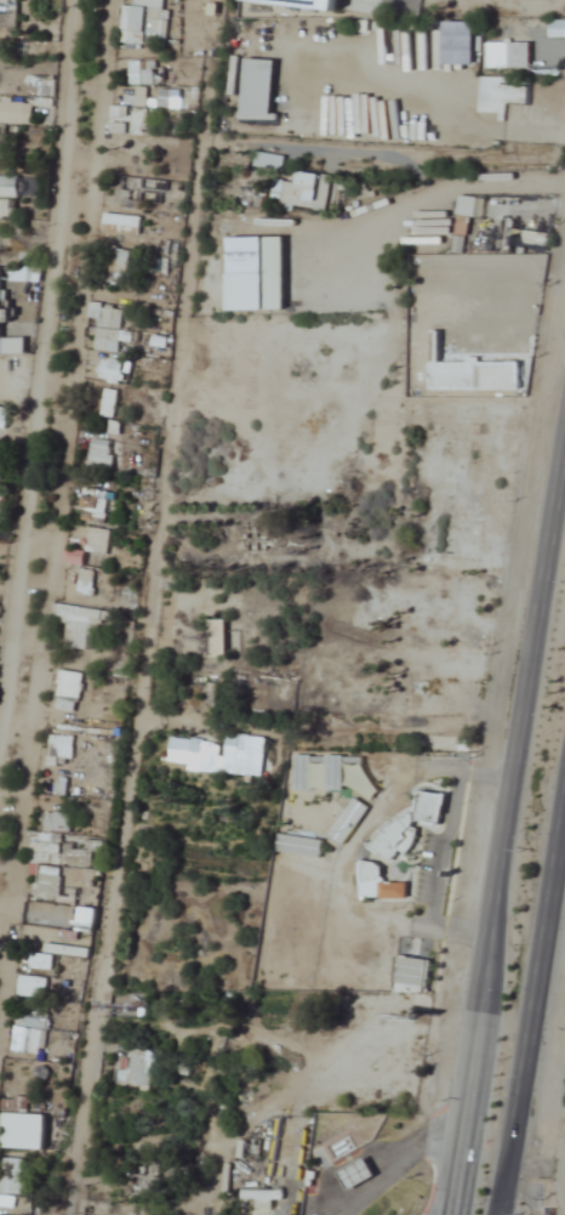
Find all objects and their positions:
road: (510, 773)

